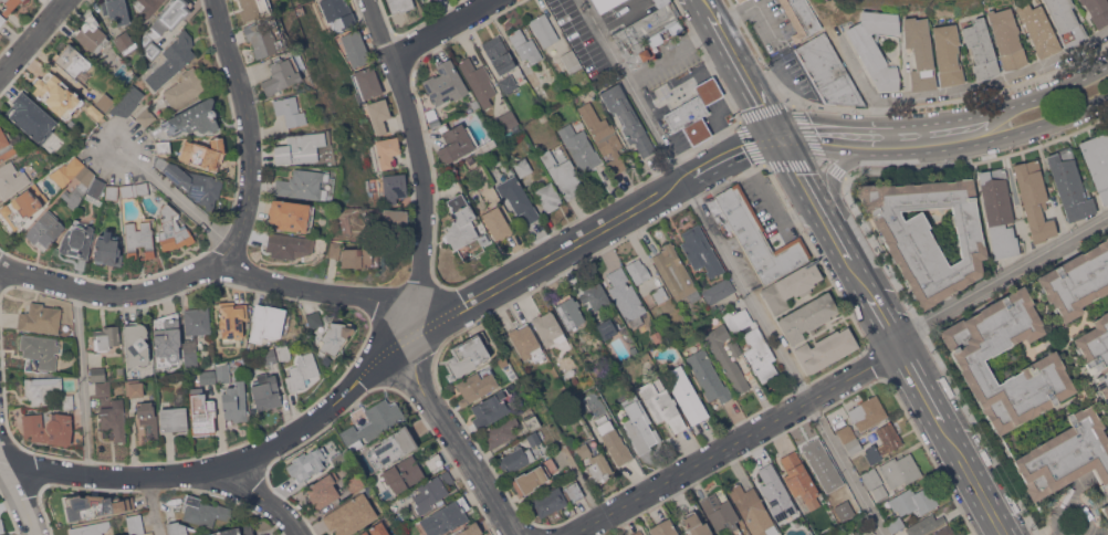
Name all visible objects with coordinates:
building: (0, 0)
building: (22, 0)
building: (739, 0)
building: (661, 2)
building: (604, 3)
building: (399, 4)
building: (10, 6)
building: (147, 7)
building: (253, 8)
building: (116, 10)
building: (1097, 11)
building: (337, 13)
building: (801, 18)
building: (1, 19)
building: (1065, 21)
building: (165, 24)
road: (440, 29)
building: (1038, 29)
building: (544, 30)
building: (91, 33)
building: (647, 34)
building: (264, 36)
building: (1006, 38)
road: (33, 39)
road: (725, 41)
building: (125, 42)
building: (525, 45)
building: (875, 46)
building: (355, 48)
building: (981, 49)
building: (919, 52)
building: (499, 54)
building: (948, 54)
building: (173, 60)
building: (571, 60)
building: (73, 62)
building: (109, 62)
building: (828, 71)
building: (281, 74)
building: (533, 77)
road: (864, 78)
building: (478, 81)
road: (688, 81)
building: (368, 82)
building: (445, 83)
building: (508, 83)
building: (675, 84)
building: (185, 88)
building: (56, 94)
building: (105, 102)
building: (127, 102)
building: (470, 104)
building: (290, 111)
building: (94, 112)
building: (694, 112)
road: (762, 112)
building: (25, 113)
road: (984, 113)
road: (714, 114)
building: (379, 115)
road: (795, 116)
building: (146, 117)
building: (432, 117)
building: (194, 118)
building: (627, 118)
building: (508, 120)
building: (58, 127)
road: (815, 130)
road: (251, 134)
building: (604, 136)
road: (996, 139)
traffic signals: (778, 140)
building: (456, 143)
building: (7, 145)
building: (163, 147)
building: (300, 147)
building: (579, 147)
road: (828, 148)
building: (387, 150)
building: (203, 153)
building: (1097, 161)
building: (522, 166)
building: (66, 171)
building: (563, 174)
building: (11, 180)
road: (834, 180)
building: (194, 182)
building: (1069, 183)
building: (303, 185)
building: (79, 187)
building: (142, 187)
building: (394, 187)
road: (805, 187)
building: (95, 189)
building: (126, 190)
building: (112, 191)
building: (548, 196)
road: (179, 197)
building: (518, 197)
building: (1034, 199)
building: (23, 206)
building: (999, 211)
building: (291, 214)
building: (395, 219)
building: (460, 222)
building: (496, 223)
building: (45, 229)
building: (173, 229)
building: (928, 233)
building: (755, 234)
building: (139, 239)
building: (483, 239)
building: (77, 240)
building: (289, 245)
building: (335, 249)
building: (108, 250)
building: (700, 250)
building: (356, 256)
road: (847, 259)
road: (733, 267)
road: (206, 270)
building: (638, 270)
building: (676, 273)
road: (419, 279)
building: (1077, 281)
building: (791, 286)
building: (719, 290)
building: (660, 293)
building: (595, 295)
building: (626, 296)
building: (717, 307)
building: (568, 311)
road: (879, 315)
building: (807, 316)
building: (40, 317)
building: (314, 318)
building: (197, 319)
building: (232, 319)
building: (265, 323)
building: (547, 326)
building: (605, 328)
building: (335, 336)
building: (657, 336)
building: (106, 337)
building: (168, 337)
building: (526, 342)
building: (753, 343)
building: (135, 344)
road: (396, 345)
building: (250, 346)
building: (734, 347)
building: (826, 349)
building: (41, 350)
building: (283, 352)
building: (1096, 352)
building: (468, 353)
building: (269, 355)
building: (727, 357)
building: (191, 358)
building: (1046, 363)
building: (119, 370)
building: (301, 370)
building: (223, 373)
building: (97, 374)
building: (207, 375)
building: (708, 375)
building: (575, 379)
road: (838, 380)
road: (84, 382)
building: (475, 386)
building: (103, 387)
building: (41, 388)
building: (135, 388)
building: (265, 390)
building: (687, 395)
road: (928, 397)
building: (65, 401)
building: (234, 401)
building: (661, 402)
building: (490, 408)
building: (867, 411)
building: (201, 412)
building: (174, 418)
building: (114, 420)
building: (373, 420)
building: (146, 422)
building: (532, 422)
building: (638, 423)
building: (49, 428)
building: (501, 431)
building: (846, 433)
building: (533, 438)
building: (614, 440)
building: (884, 441)
building: (393, 447)
building: (854, 447)
building: (1066, 454)
road: (1, 457)
building: (337, 458)
building: (515, 458)
building: (818, 458)
building: (435, 461)
building: (307, 462)
building: (595, 462)
building: (900, 469)
building: (401, 474)
building: (534, 475)
building: (798, 476)
building: (871, 478)
building: (355, 483)
building: (323, 490)
road: (19, 491)
building: (432, 491)
building: (879, 492)
road: (982, 492)
building: (776, 494)
building: (556, 497)
road: (266, 499)
building: (913, 501)
building: (129, 503)
road: (1069, 505)
road: (154, 506)
building: (85, 507)
building: (720, 510)
building: (752, 510)
building: (1105, 510)
building: (205, 511)
building: (351, 514)
building: (447, 516)
building: (845, 516)
building: (895, 523)
building: (135, 524)
building: (696, 524)
building: (924, 524)
building: (1, 525)
building: (177, 528)
building: (378, 528)
building: (663, 528)
building: (87, 529)
building: (470, 529)
building: (236, 531)
building: (945, 531)
building: (364, 533)
building: (637, 533)
road: (1050, 533)
building: (191, 534)
building: (264, 534)
building: (870, 534)

